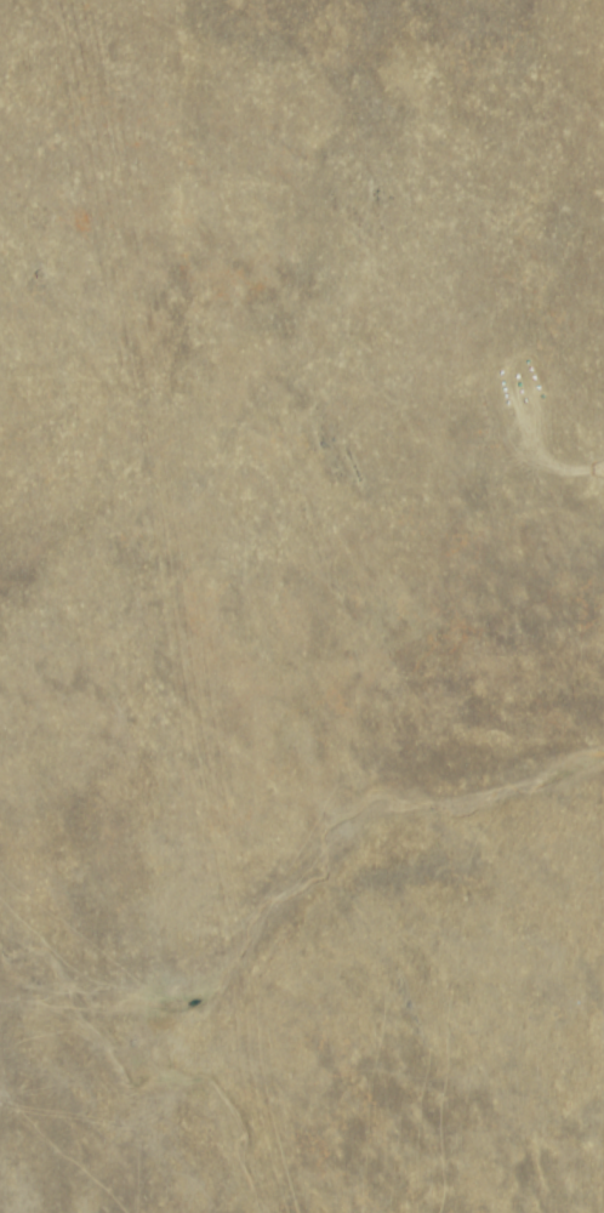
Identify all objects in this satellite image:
road: (184, 605)

